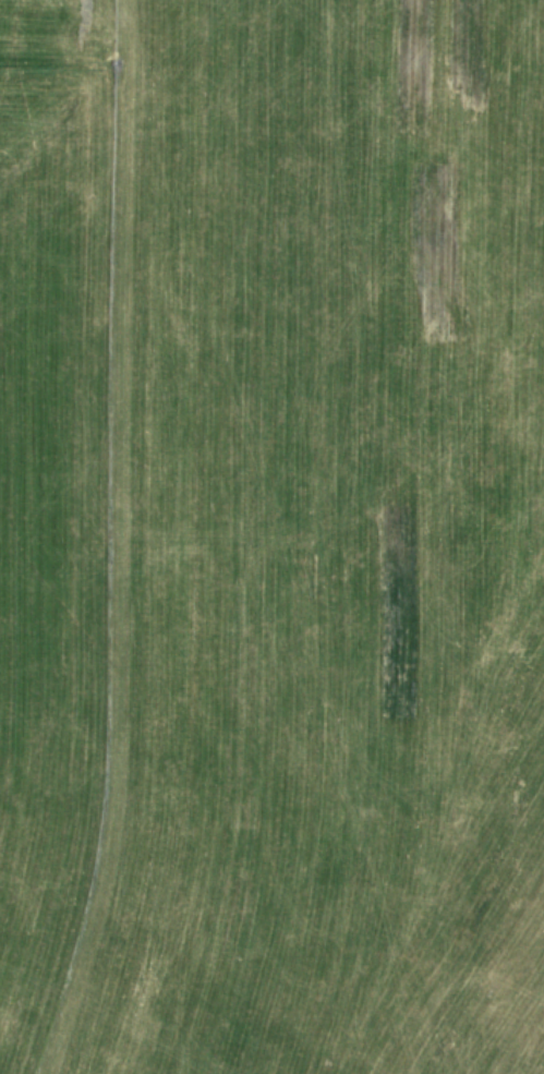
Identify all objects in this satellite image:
crop: (271, 536)

